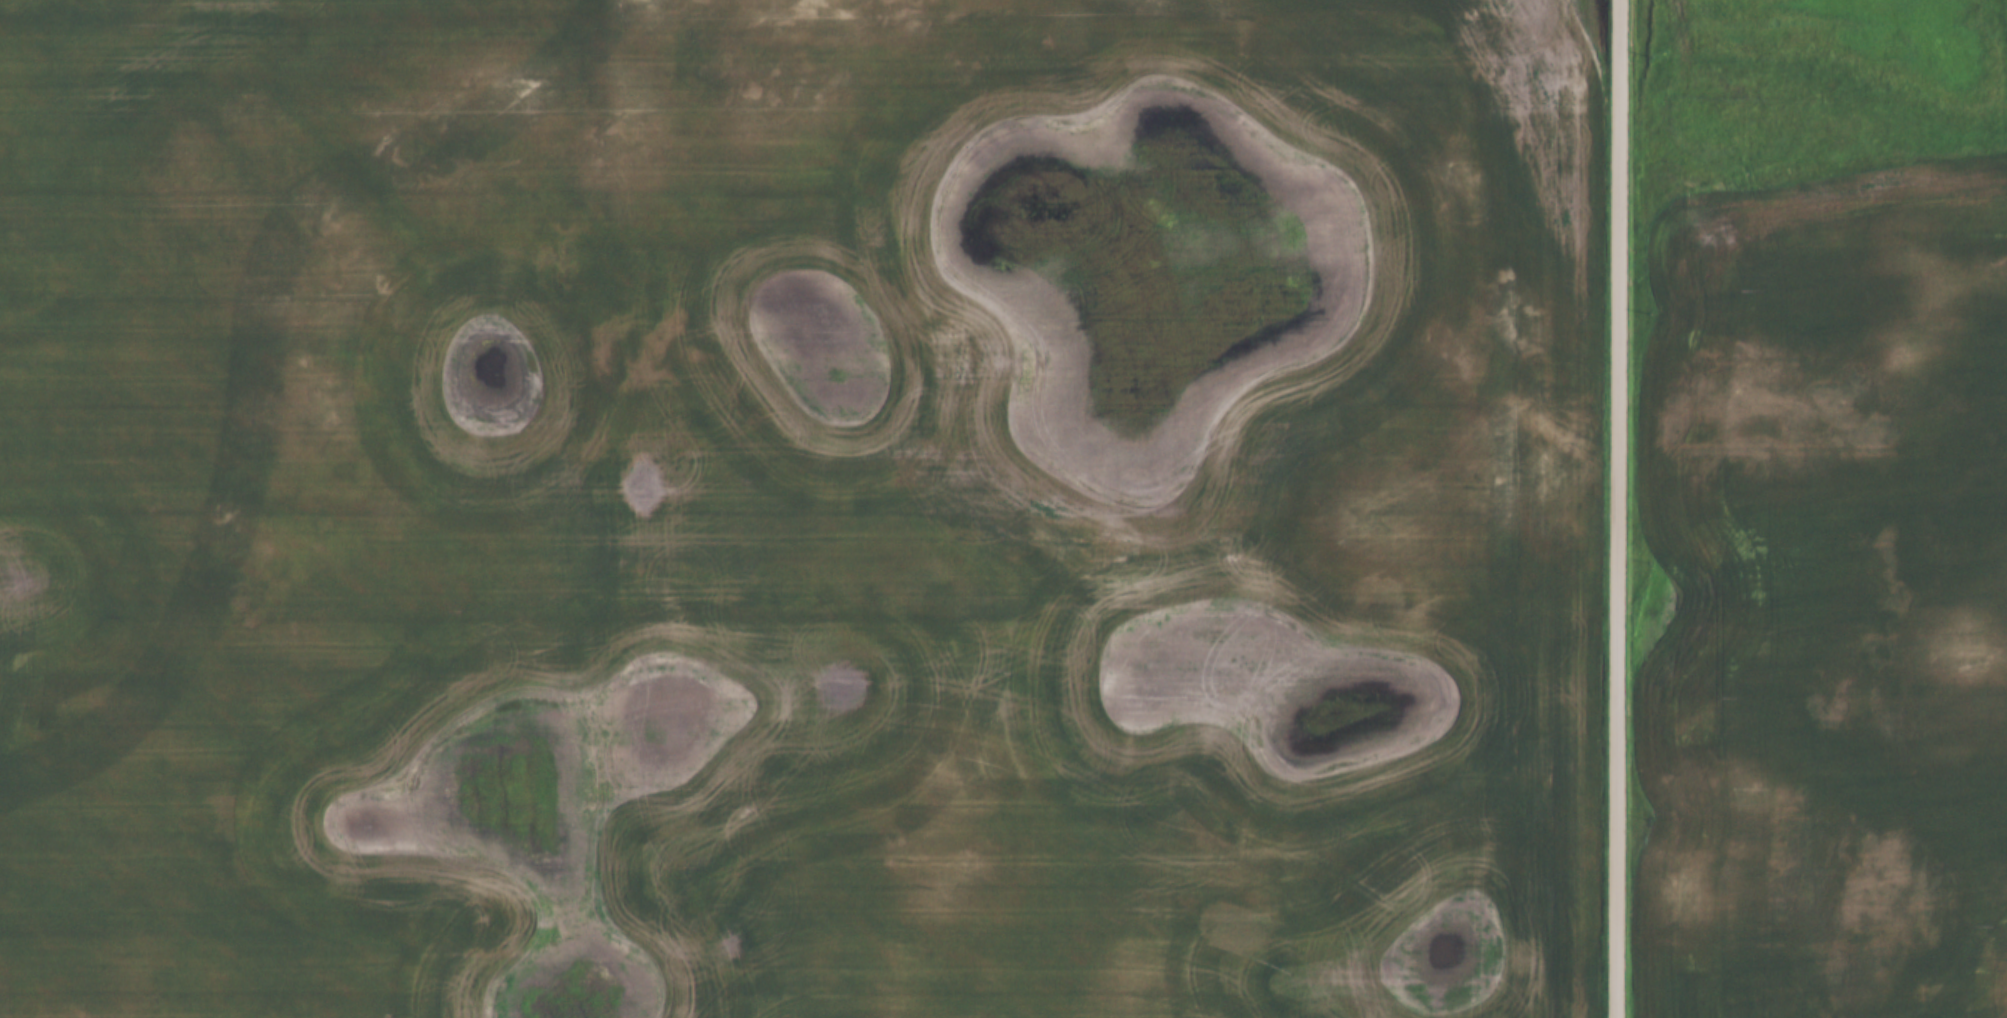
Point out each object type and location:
road: (1620, 509)

